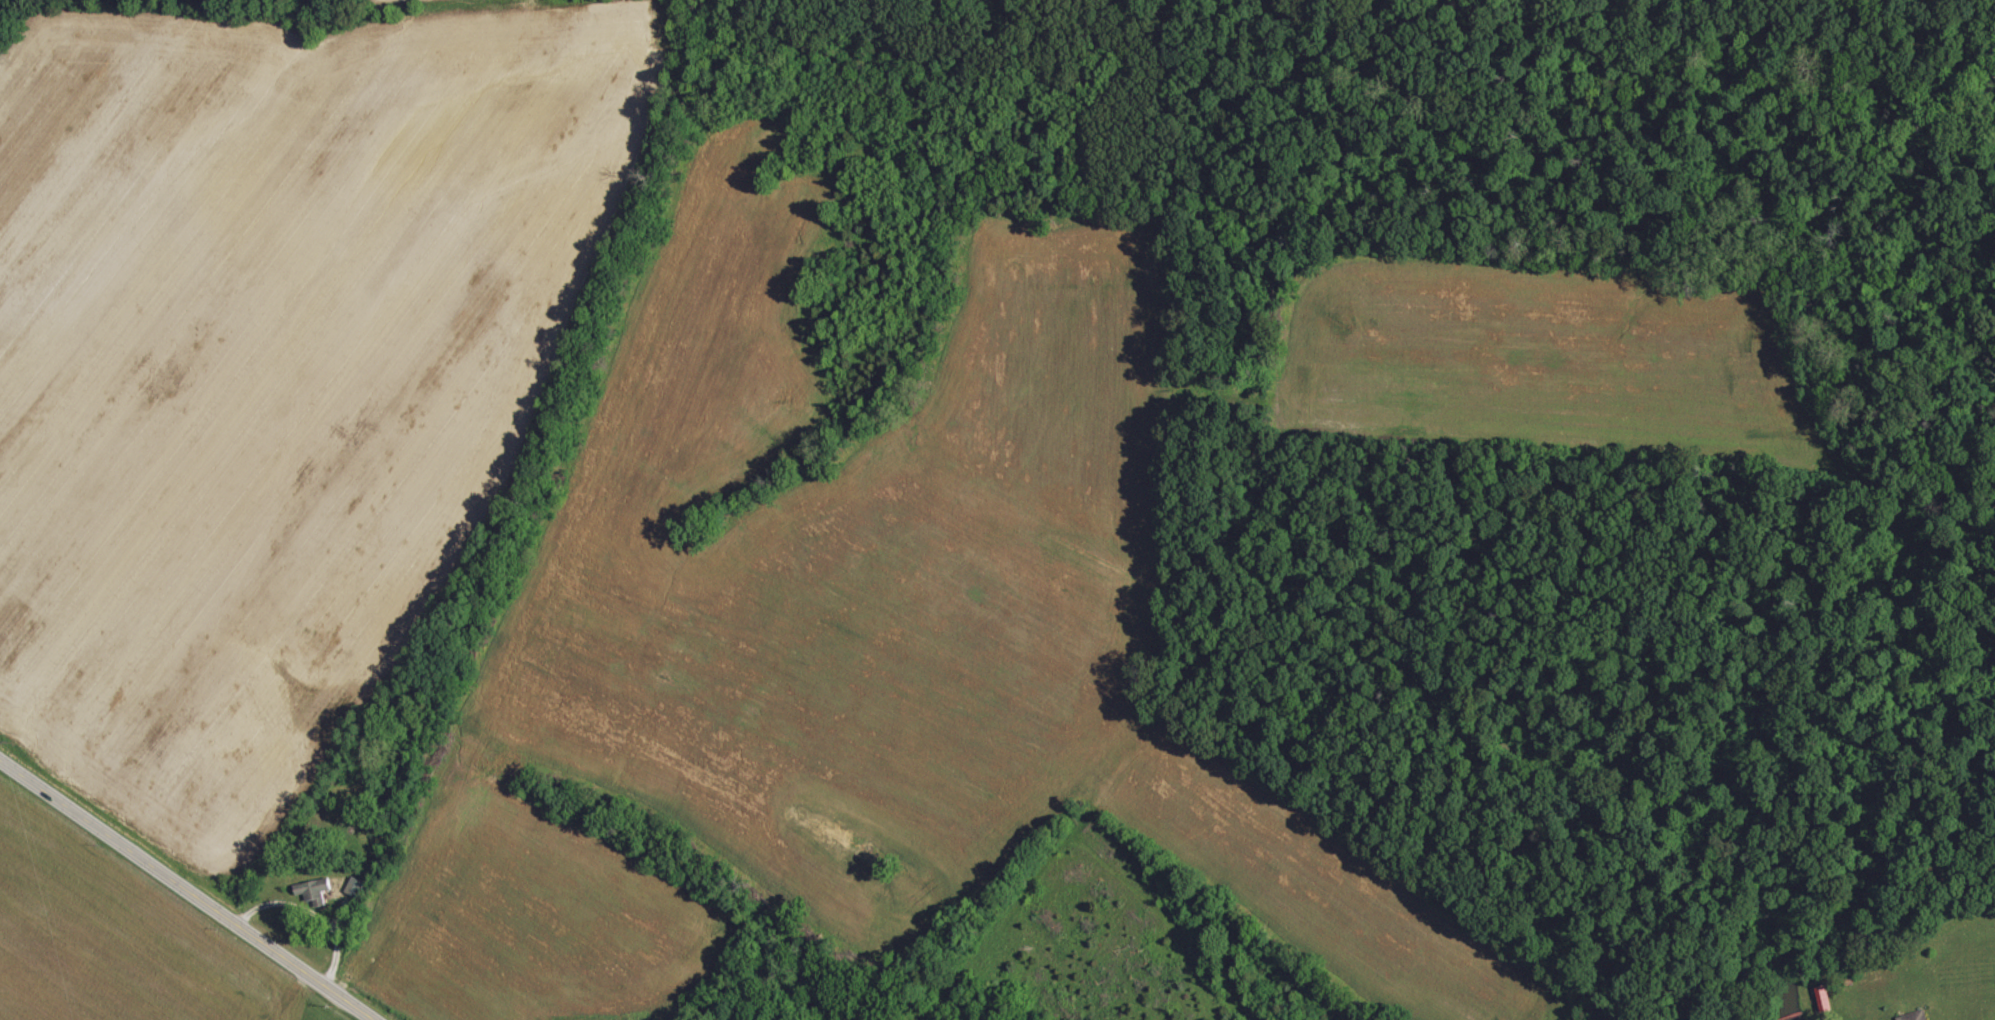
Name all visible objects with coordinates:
crop: (1546, 354)
road: (183, 893)
building: (313, 893)
building: (1823, 998)
road: (1787, 1015)
building: (1914, 1016)

